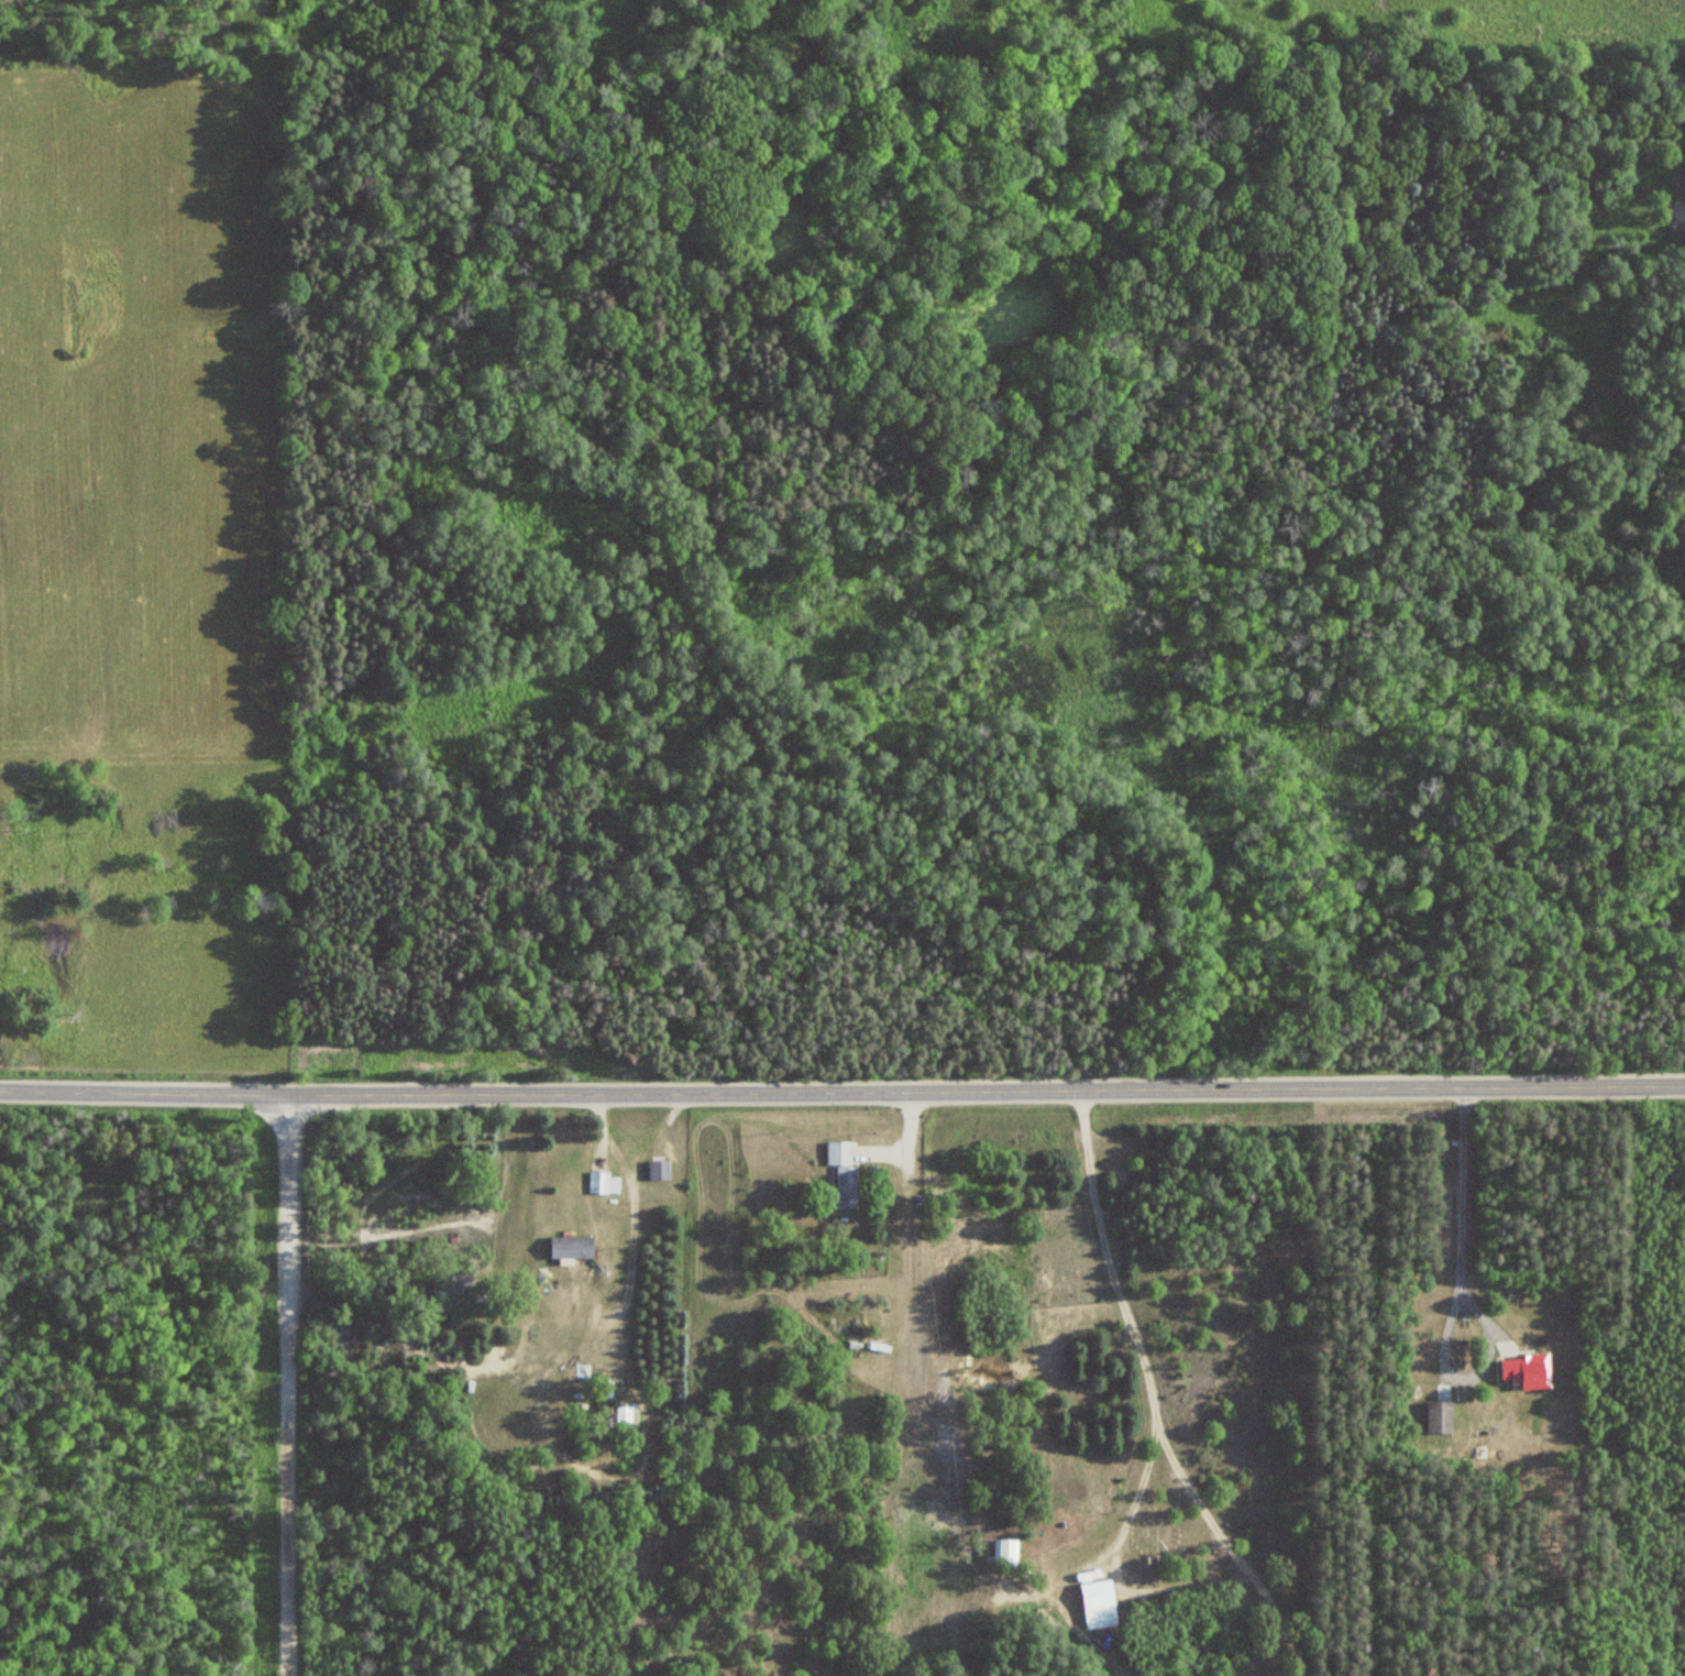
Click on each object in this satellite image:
road: (842, 1088)
building: (658, 1170)
building: (842, 1172)
building: (603, 1182)
building: (572, 1247)
road: (1461, 1291)
building: (1530, 1371)
road: (280, 1383)
building: (623, 1413)
building: (1444, 1417)
building: (1005, 1554)
building: (1099, 1603)

